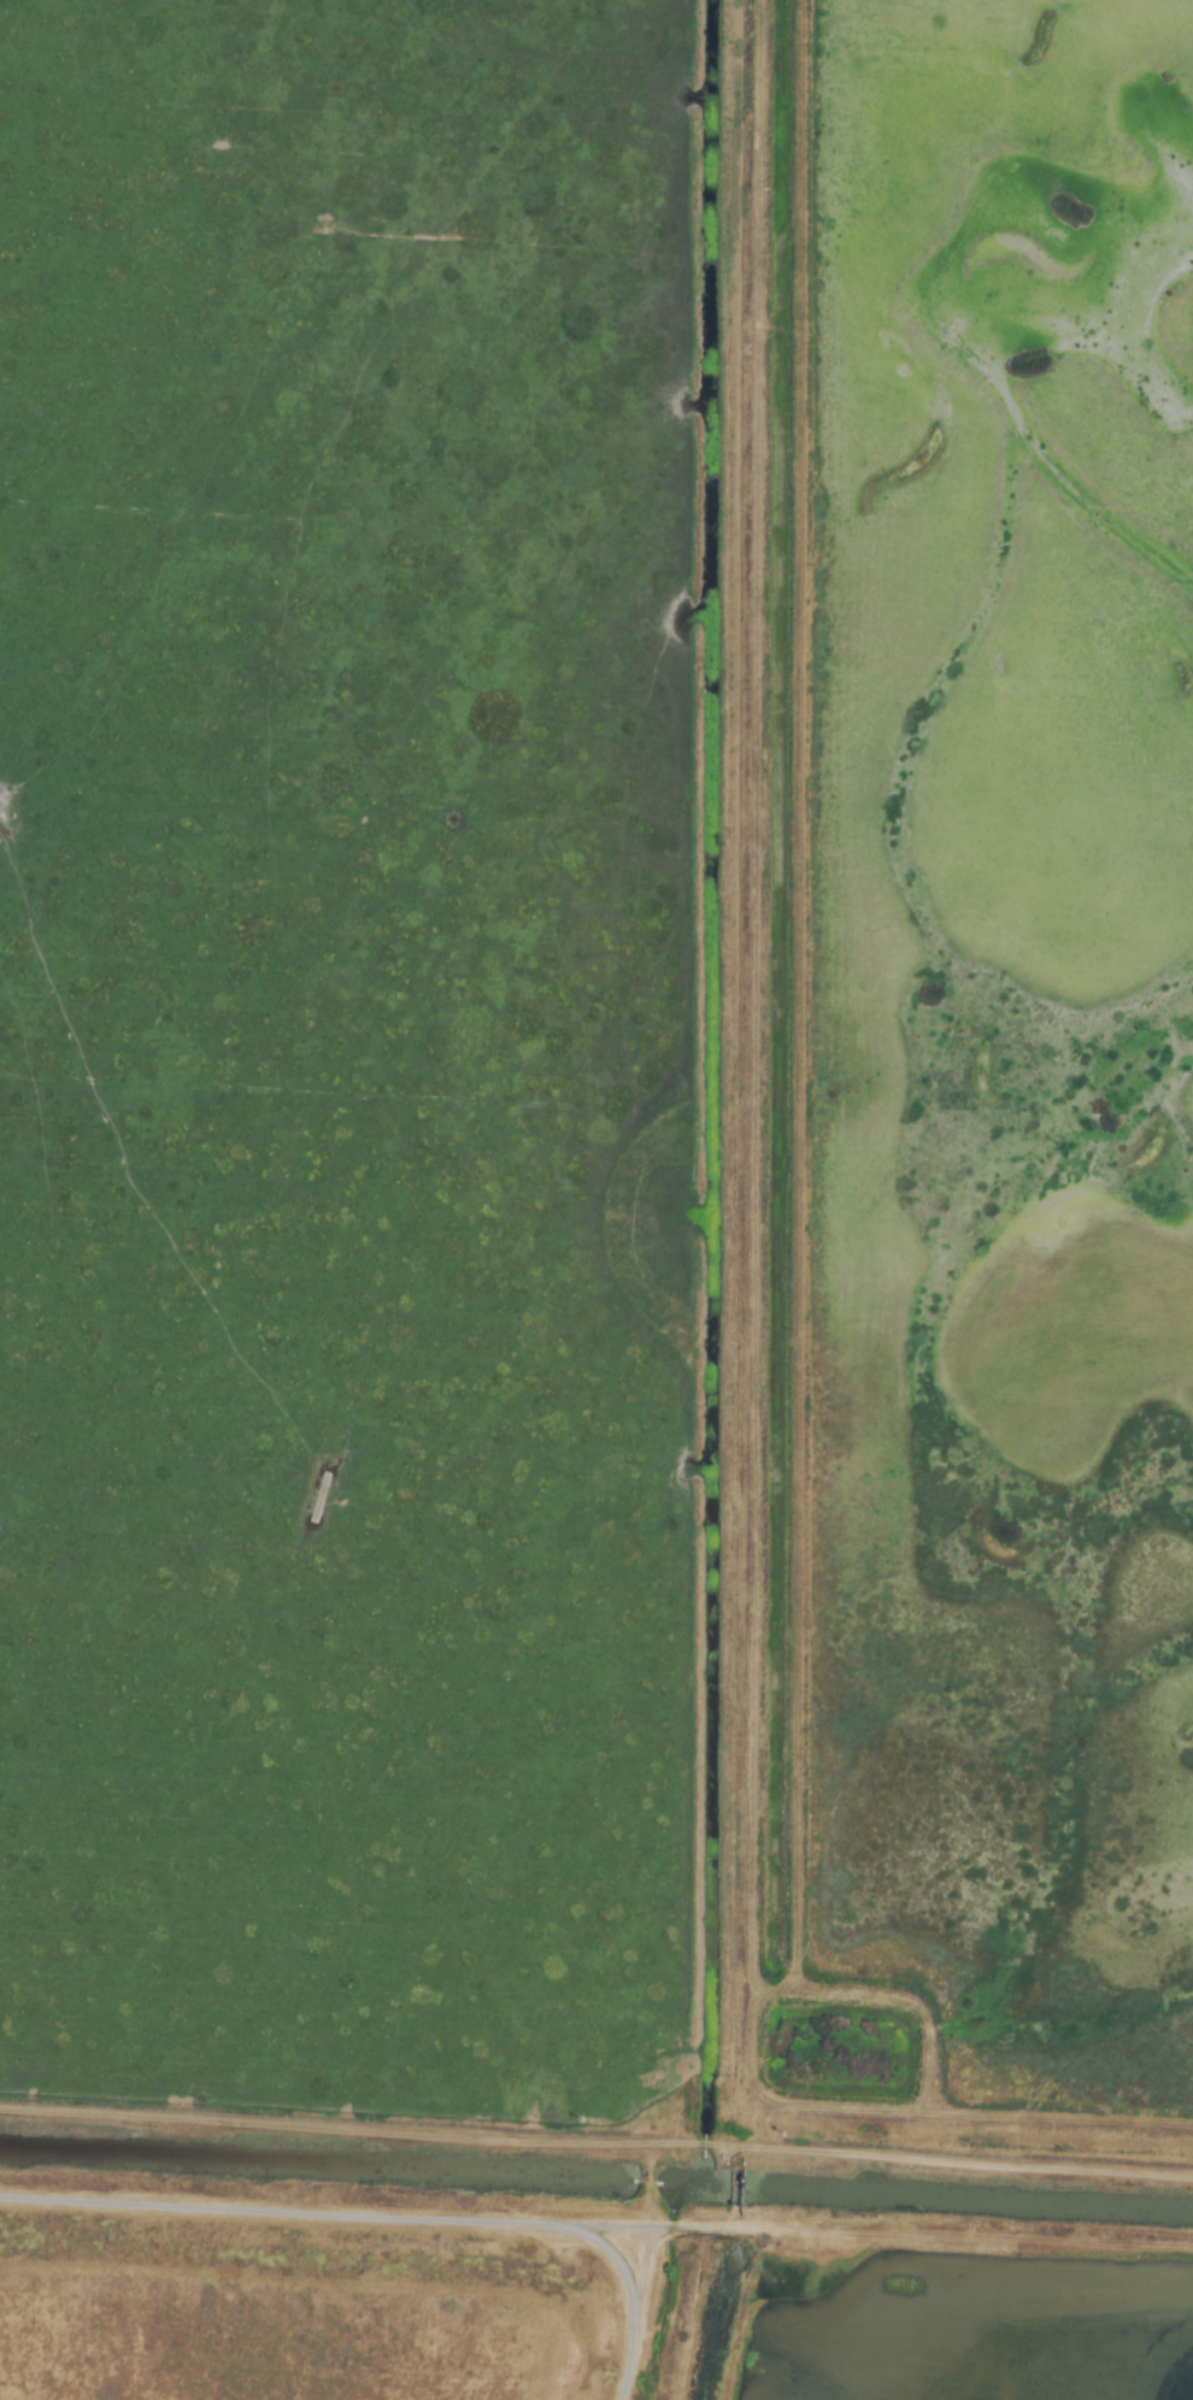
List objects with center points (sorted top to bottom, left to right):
road: (384, 2223)

